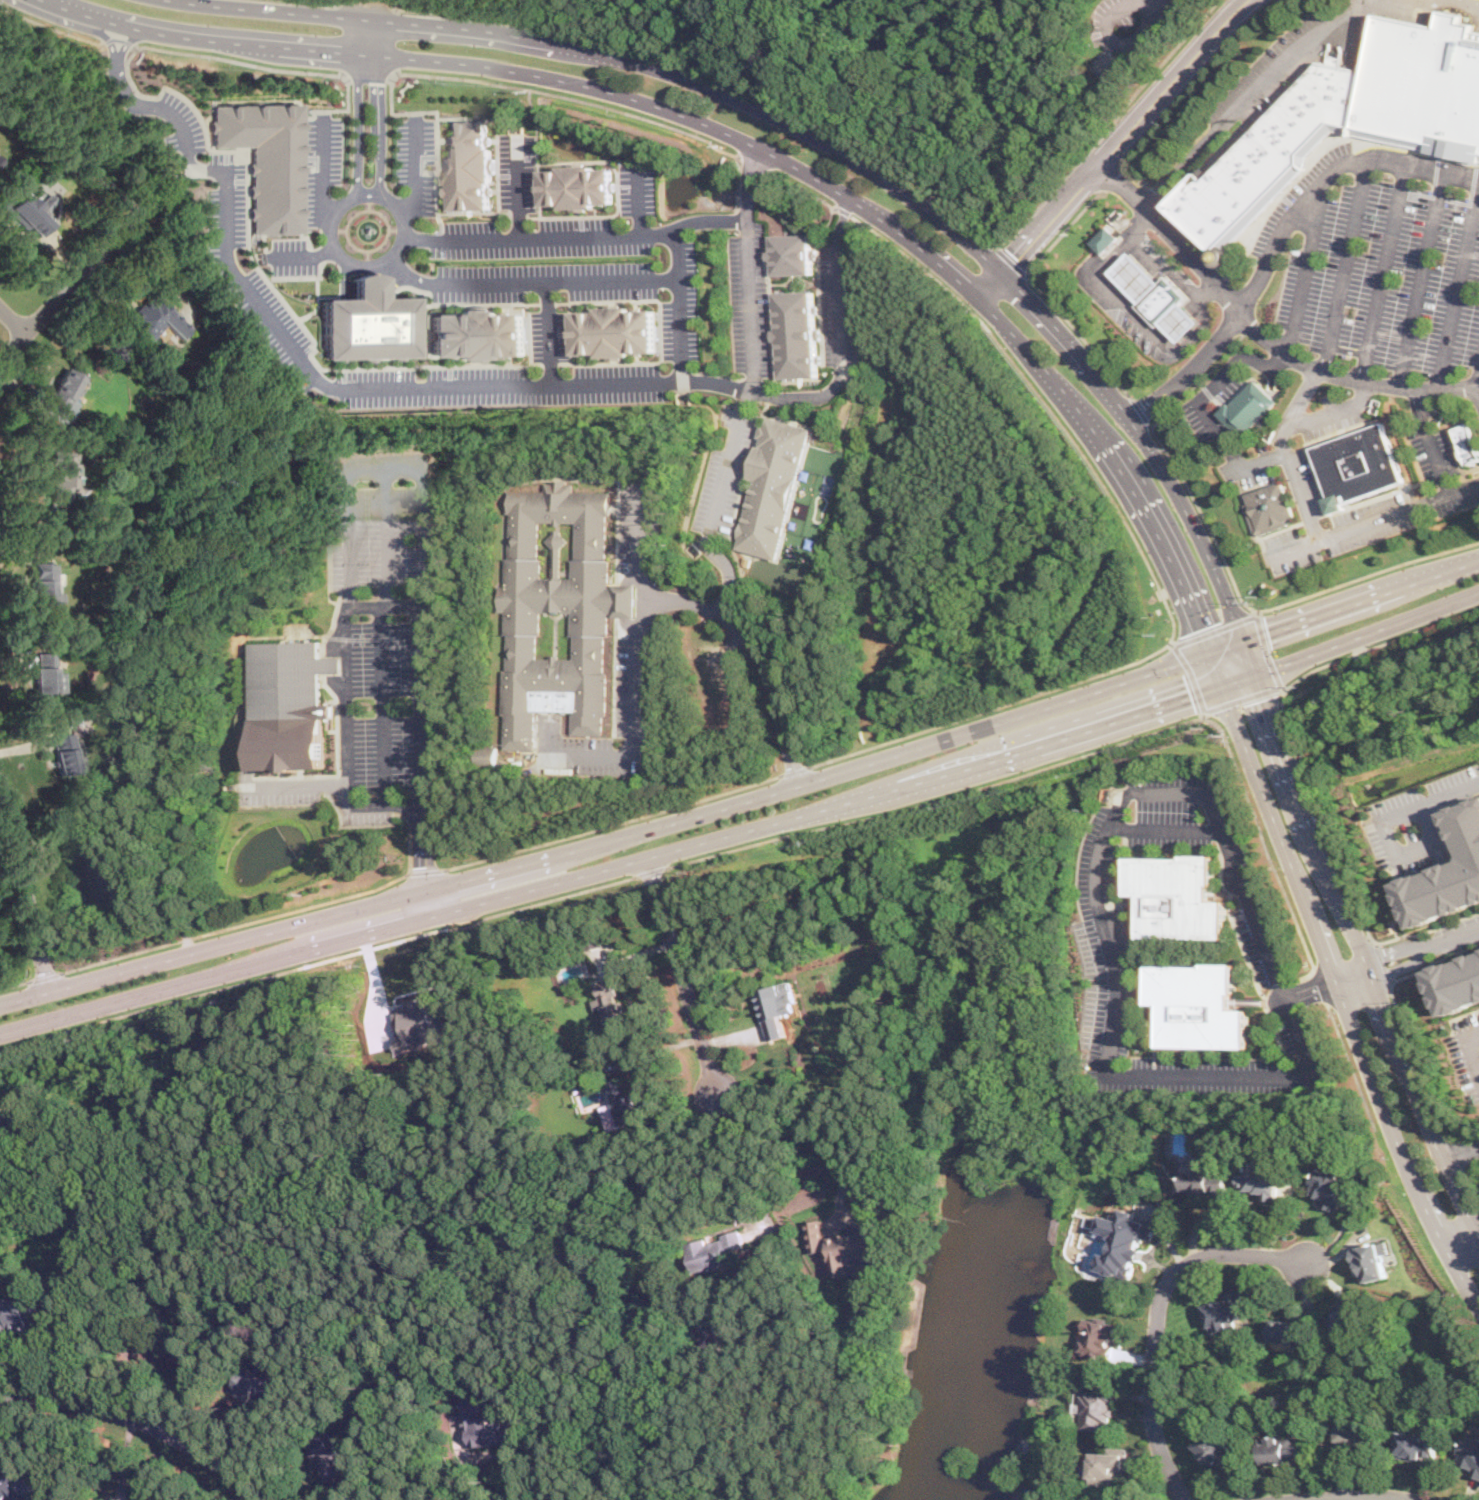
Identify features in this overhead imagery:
road: (313, 2)
road: (1168, 3)
road: (1456, 5)
road: (367, 7)
road: (51, 28)
road: (1110, 37)
road: (115, 39)
road: (254, 66)
road: (118, 71)
road: (370, 73)
road: (718, 76)
road: (1199, 78)
park: (953, 80)
building: (1421, 81)
road: (550, 92)
road: (1250, 99)
road: (1108, 125)
road: (741, 139)
road: (821, 141)
road: (1114, 146)
building: (1265, 153)
road: (754, 160)
building: (266, 161)
building: (467, 165)
road: (413, 169)
road: (328, 172)
road: (1112, 174)
building: (578, 186)
road: (803, 187)
road: (518, 188)
road: (642, 200)
road: (844, 210)
building: (34, 212)
road: (744, 218)
road: (840, 220)
road: (1062, 231)
building: (1106, 238)
road: (1278, 241)
building: (792, 254)
road: (309, 256)
road: (1013, 260)
parking lot: (1378, 260)
road: (372, 265)
road: (1347, 265)
road: (678, 267)
road: (1306, 269)
road: (1385, 273)
building: (1137, 276)
road: (1423, 280)
road: (71, 287)
road: (1459, 292)
building: (1162, 299)
road: (1127, 306)
road: (837, 309)
road: (13, 321)
building: (155, 321)
building: (1181, 321)
building: (374, 325)
road: (681, 330)
building: (613, 331)
road: (1260, 332)
road: (545, 333)
building: (477, 334)
building: (794, 334)
road: (1080, 334)
road: (317, 373)
road: (748, 381)
road: (1199, 381)
building: (63, 391)
road: (758, 391)
road: (1047, 403)
road: (1203, 407)
road: (1139, 409)
building: (1247, 409)
road: (1334, 412)
parking lot: (1204, 431)
road: (1432, 443)
building: (1467, 444)
road: (1286, 453)
parking lot: (1305, 465)
building: (1357, 465)
road: (387, 466)
parking lot: (1442, 472)
building: (61, 481)
building: (772, 487)
building: (215, 498)
building: (1270, 506)
road: (1373, 522)
park: (967, 534)
parking lot: (1290, 552)
building: (45, 583)
road: (382, 606)
building: (556, 609)
road: (720, 609)
road: (1264, 609)
traffic signals: (1204, 627)
road: (1216, 628)
road: (381, 634)
traffic signals: (1270, 636)
road: (1379, 644)
road: (1266, 648)
road: (635, 661)
road: (330, 663)
building: (47, 673)
road: (1193, 676)
road: (771, 690)
traffic signals: (1191, 696)
road: (1243, 697)
traffic signals: (1267, 698)
building: (288, 703)
road: (992, 708)
road: (178, 738)
building: (65, 755)
road: (792, 770)
road: (937, 798)
road: (744, 799)
road: (1420, 804)
road: (1324, 816)
road: (610, 822)
road: (745, 829)
road: (1162, 829)
road: (1268, 856)
road: (423, 860)
road: (650, 870)
road: (423, 871)
building: (1448, 875)
building: (107, 876)
road: (25, 893)
building: (1177, 897)
road: (1104, 917)
road: (233, 925)
road: (1357, 935)
road: (1424, 947)
road: (318, 961)
road: (1382, 962)
road: (684, 976)
road: (45, 977)
road: (1335, 980)
building: (1456, 983)
road: (15, 984)
road: (1326, 985)
building: (610, 1002)
building: (1197, 1005)
building: (776, 1007)
building: (419, 1023)
road: (1478, 1031)
road: (1416, 1060)
building: (620, 1105)
building: (6, 1126)
road: (799, 1127)
road: (1461, 1149)
road: (1453, 1153)
road: (740, 1157)
building: (1260, 1178)
building: (1206, 1180)
building: (1327, 1186)
road: (1469, 1188)
building: (1124, 1240)
building: (841, 1242)
building: (715, 1250)
building: (1370, 1262)
building: (1226, 1311)
building: (17, 1314)
road: (1157, 1315)
building: (1349, 1319)
building: (1290, 1330)
building: (1099, 1337)
building: (176, 1351)
building: (253, 1385)
building: (1096, 1406)
road: (140, 1420)
building: (488, 1427)
building: (1356, 1438)
building: (1418, 1444)
building: (1283, 1449)
building: (1219, 1451)
building: (1469, 1453)
building: (330, 1456)
building: (1110, 1465)
road: (470, 1476)
building: (12, 1483)
road: (1357, 1496)
building: (133, 1499)
building: (135, 1499)

